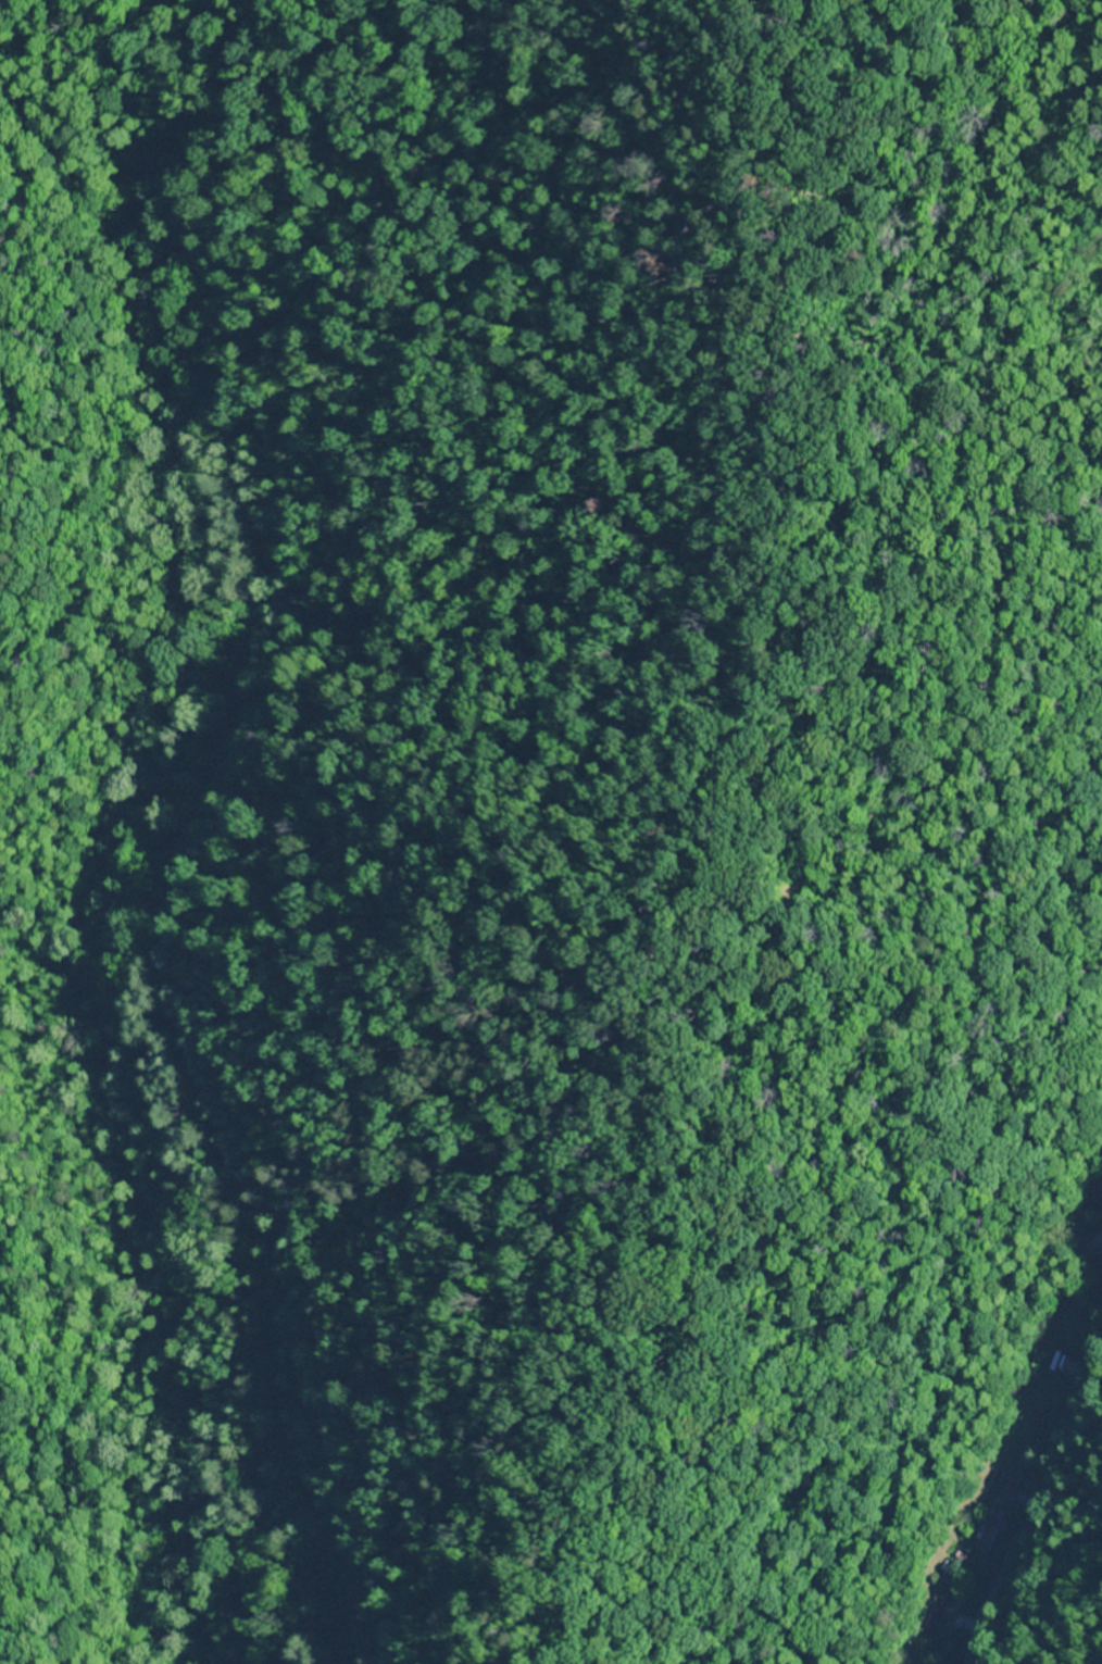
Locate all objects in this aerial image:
building: (1010, 1493)
road: (1032, 1517)
building: (992, 1529)
building: (943, 1603)

